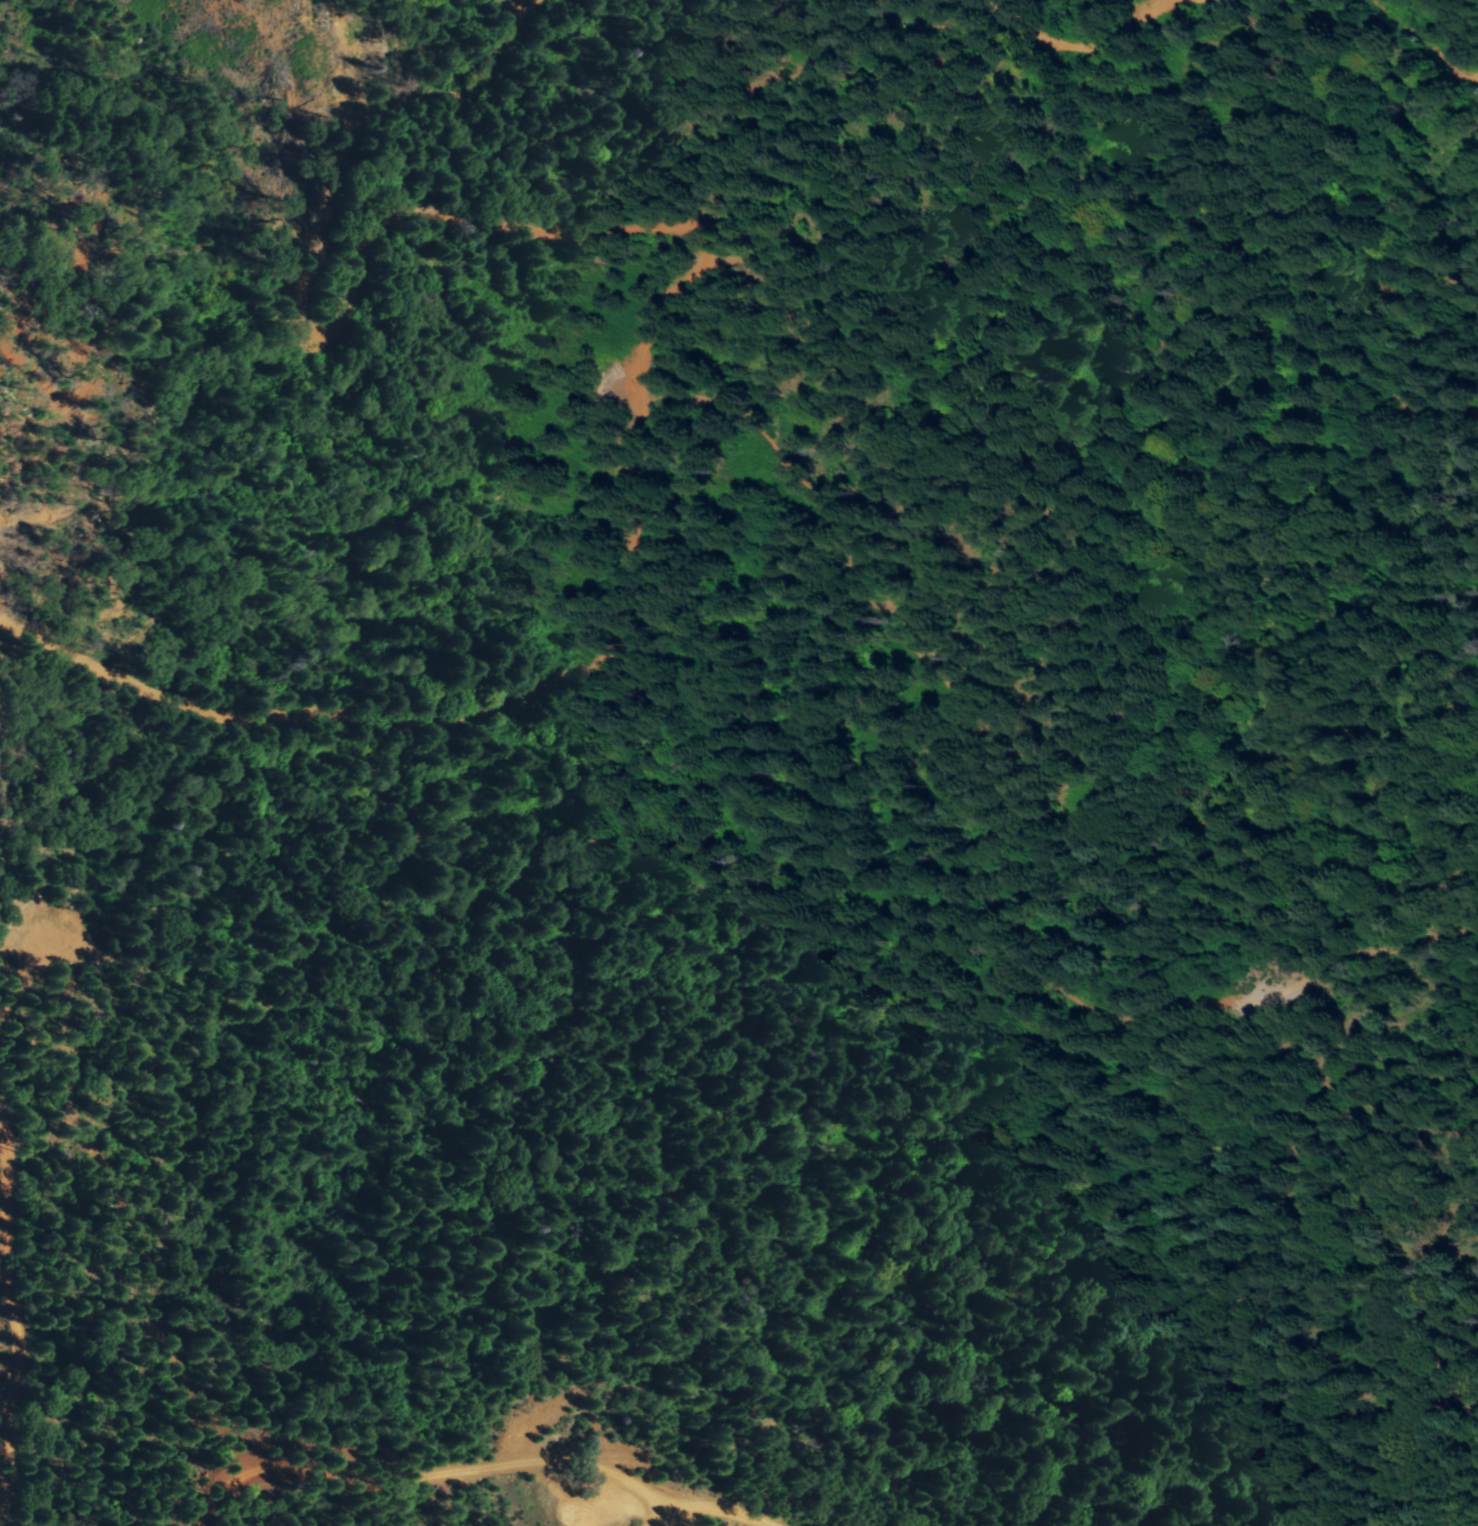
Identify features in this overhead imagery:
road: (643, 410)
road: (32, 1274)
road: (759, 1512)

